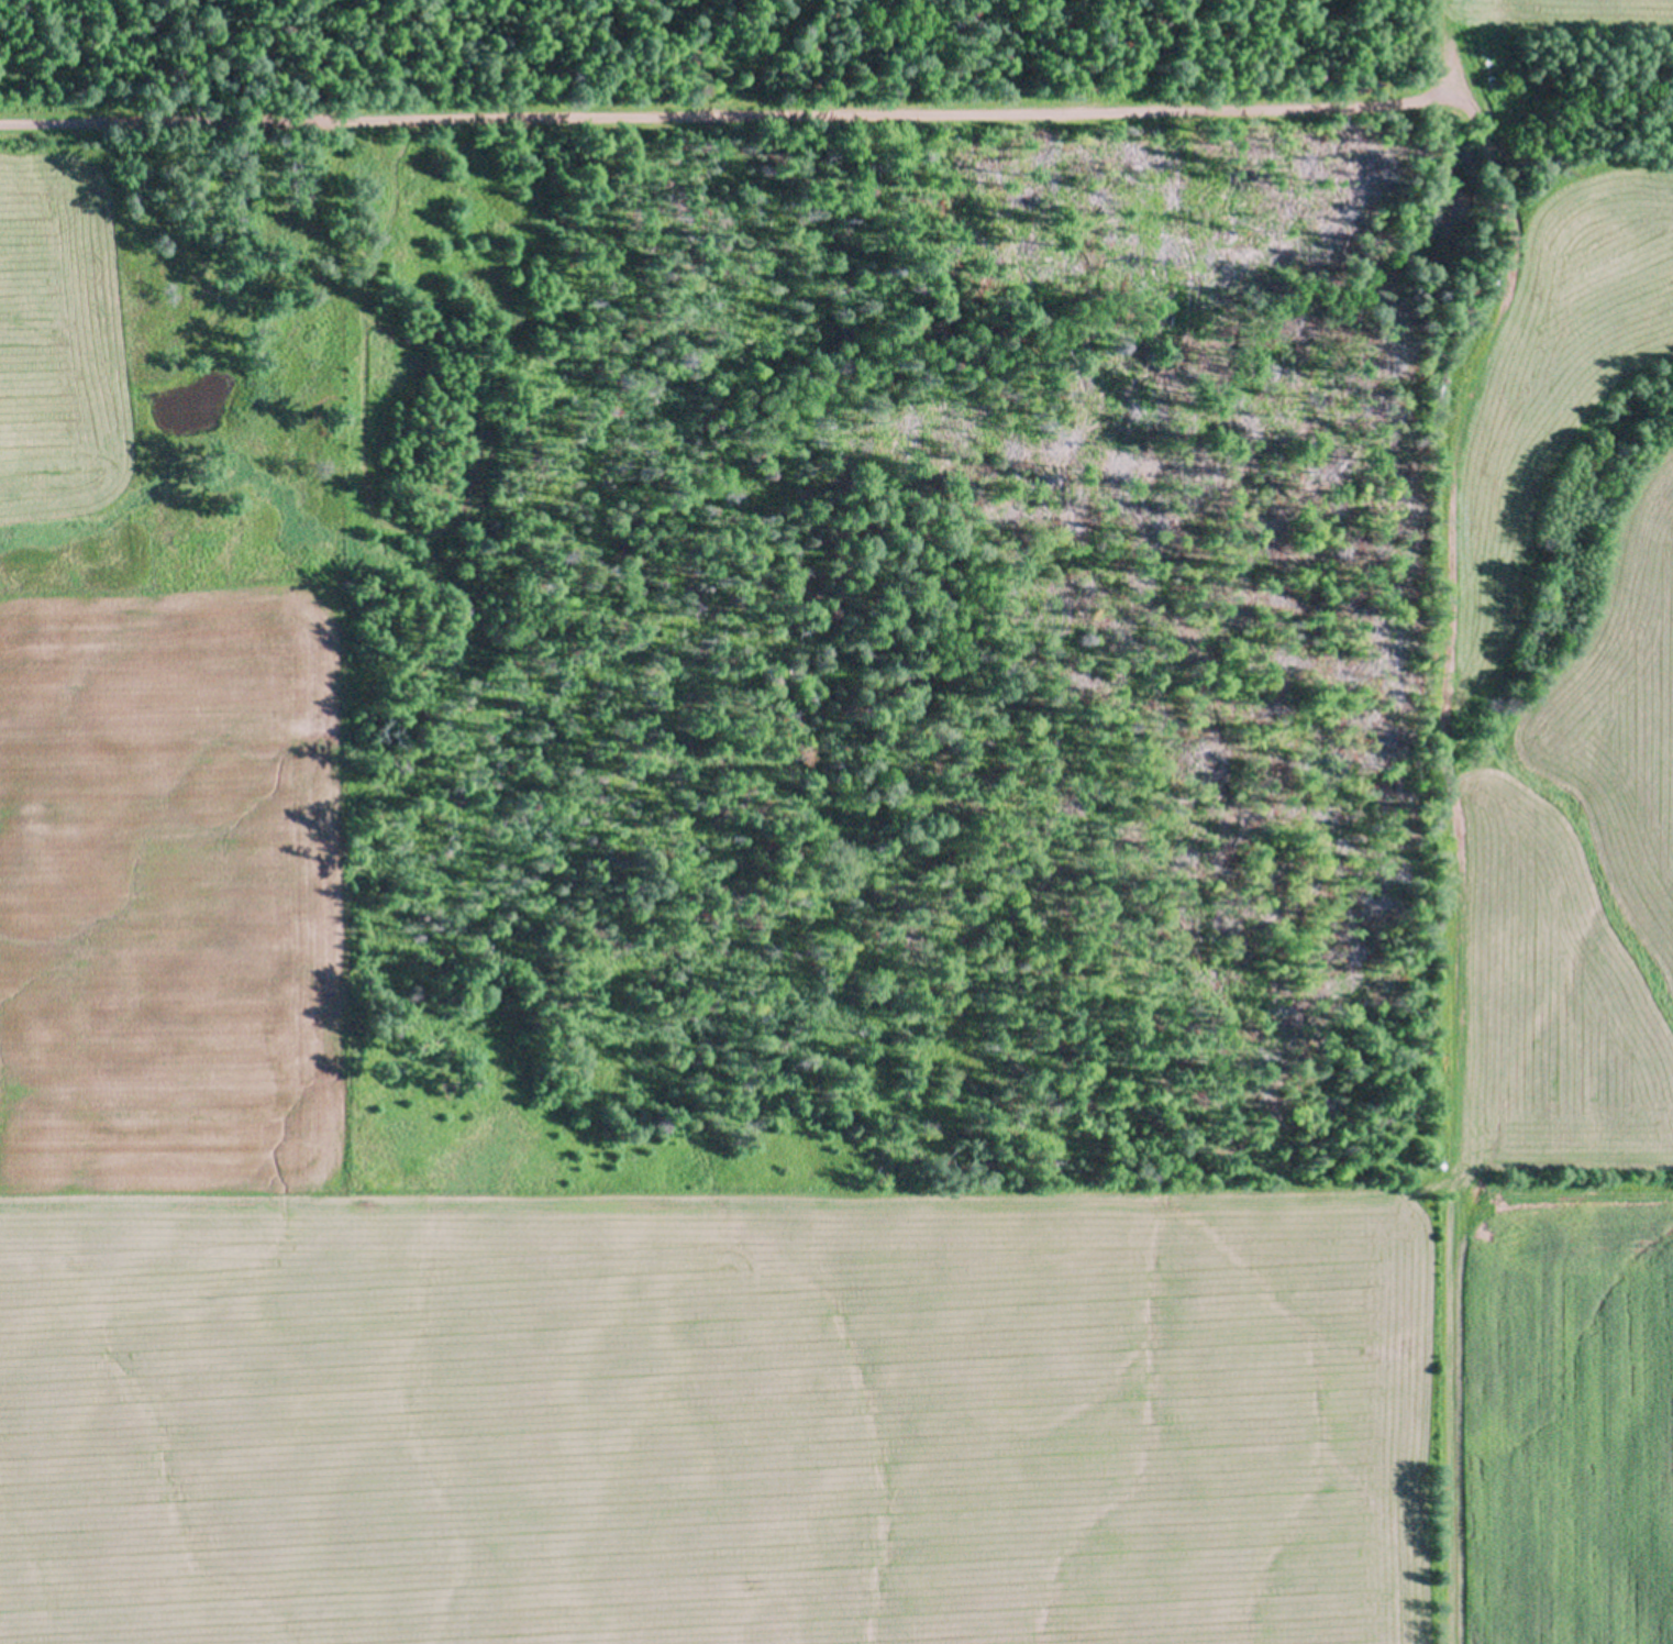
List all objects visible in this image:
crop: (1536, 25)
road: (734, 115)
crop: (174, 947)

